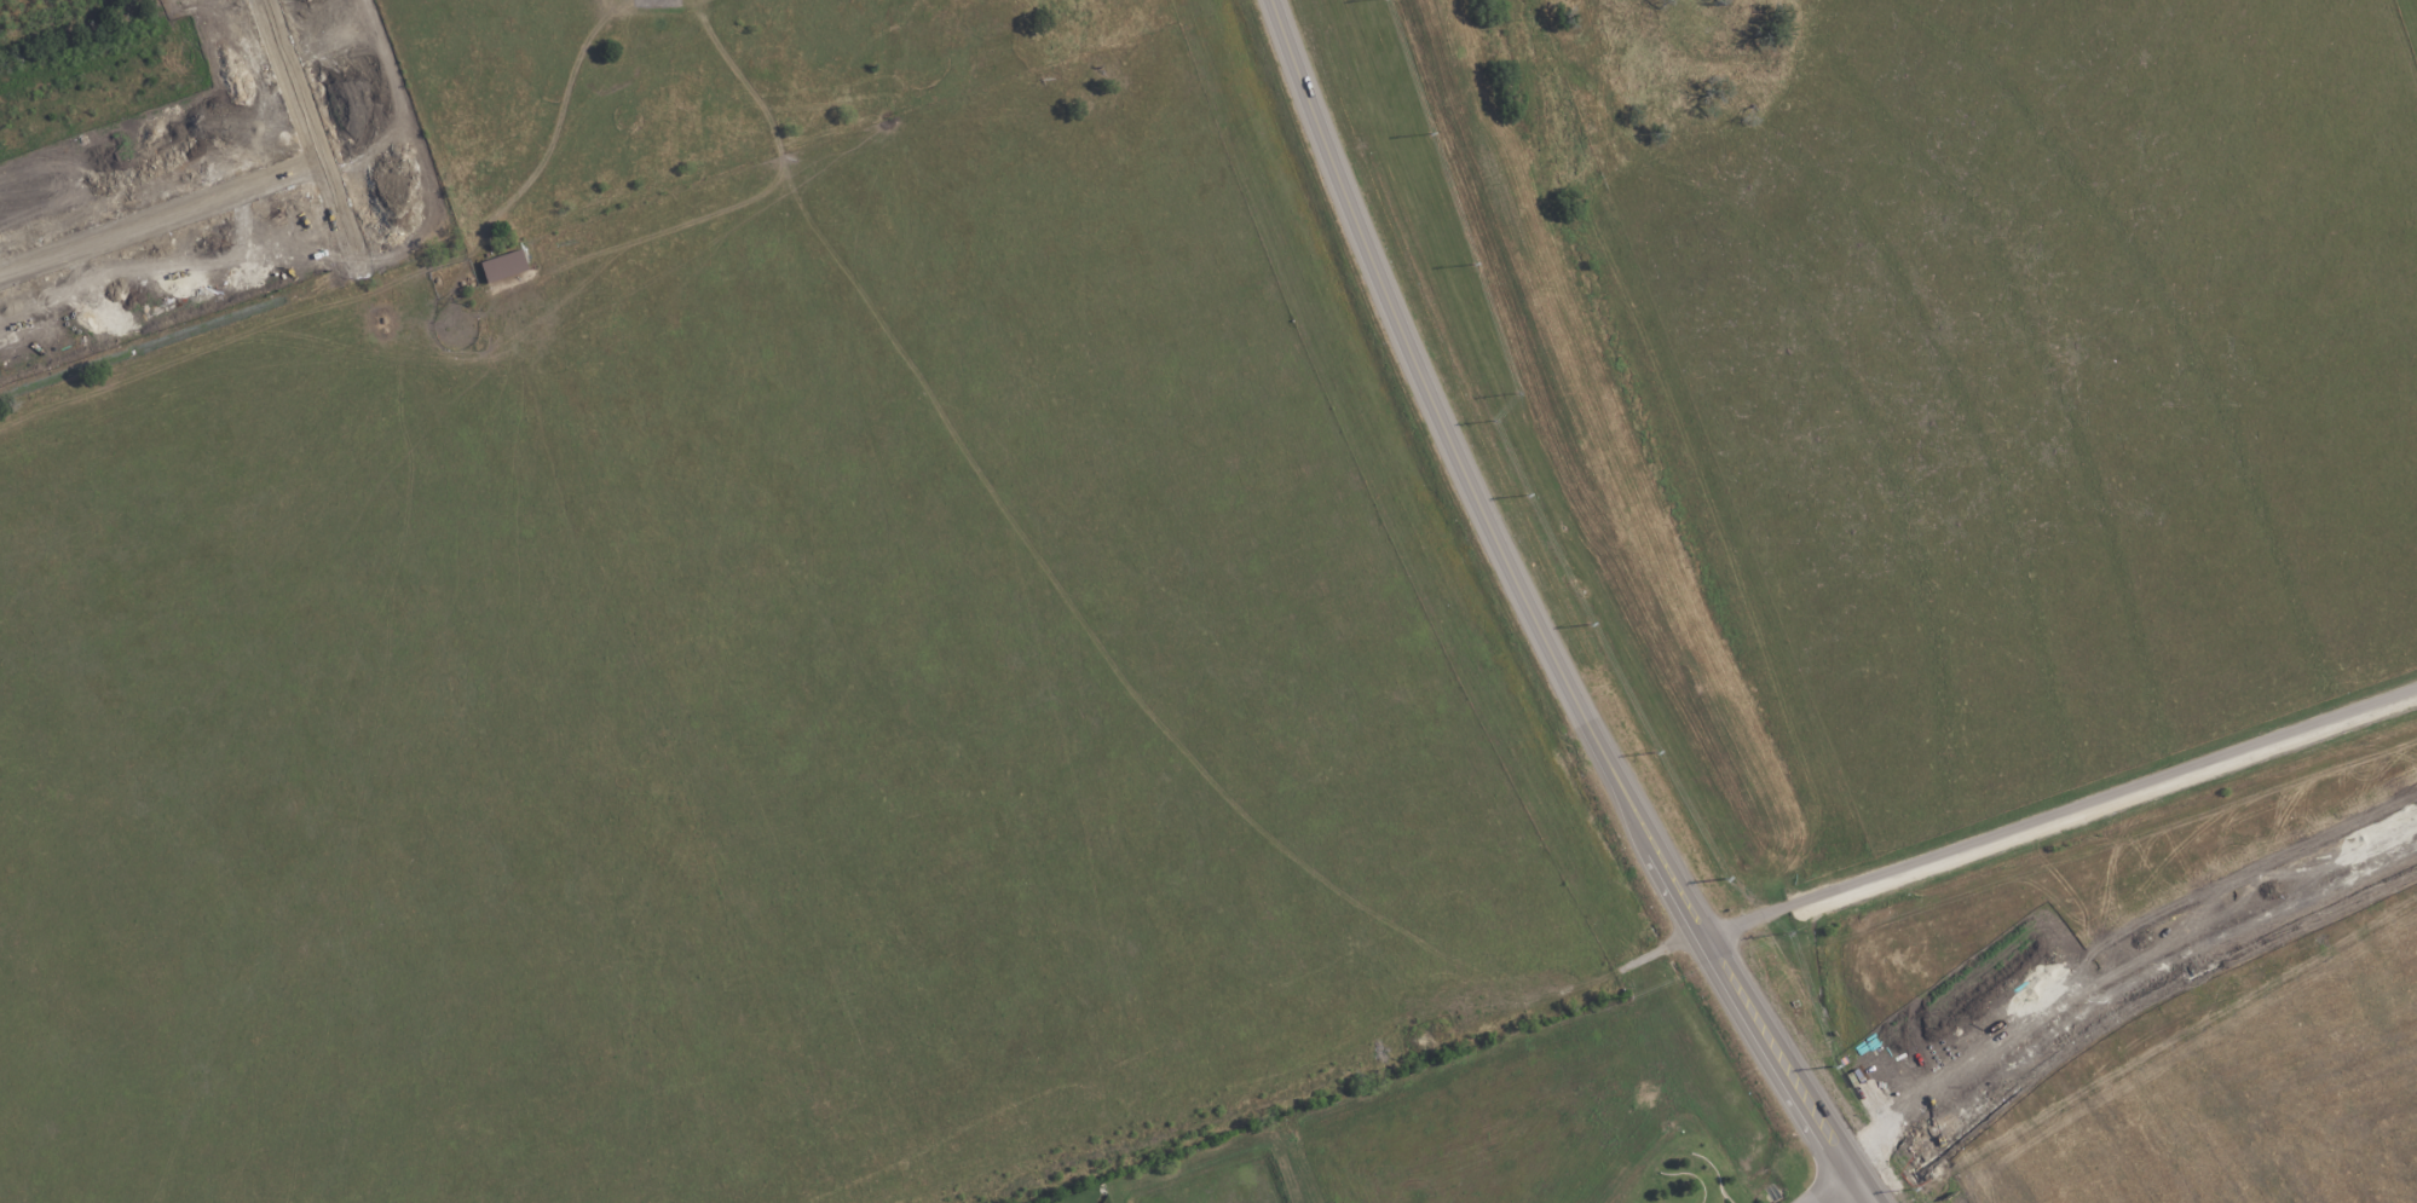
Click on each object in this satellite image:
road: (40, 13)
road: (556, 117)
road: (323, 123)
road: (165, 202)
building: (504, 266)
road: (1631, 476)
road: (1539, 620)
road: (2059, 809)
road: (2168, 961)
road: (1902, 1149)
traffic signals: (1861, 1179)
road: (1848, 1184)

